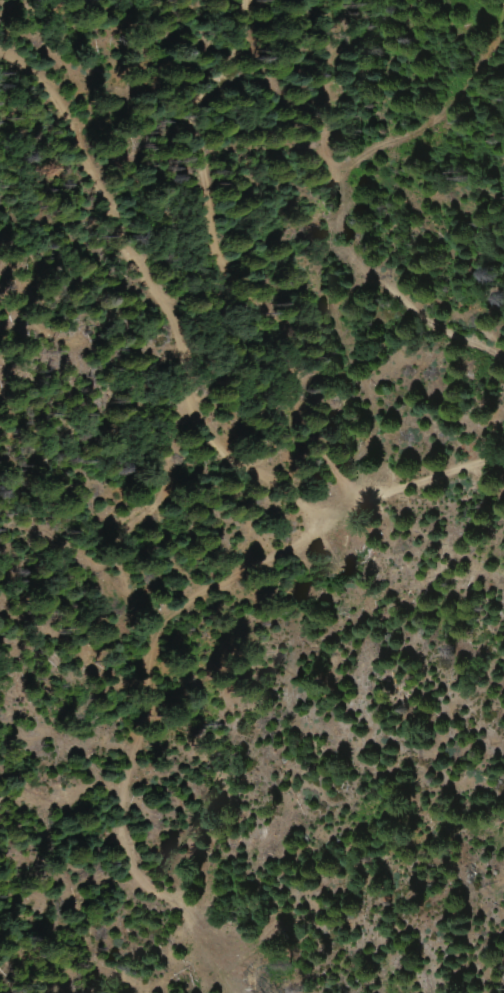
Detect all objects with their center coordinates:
road: (285, 320)

